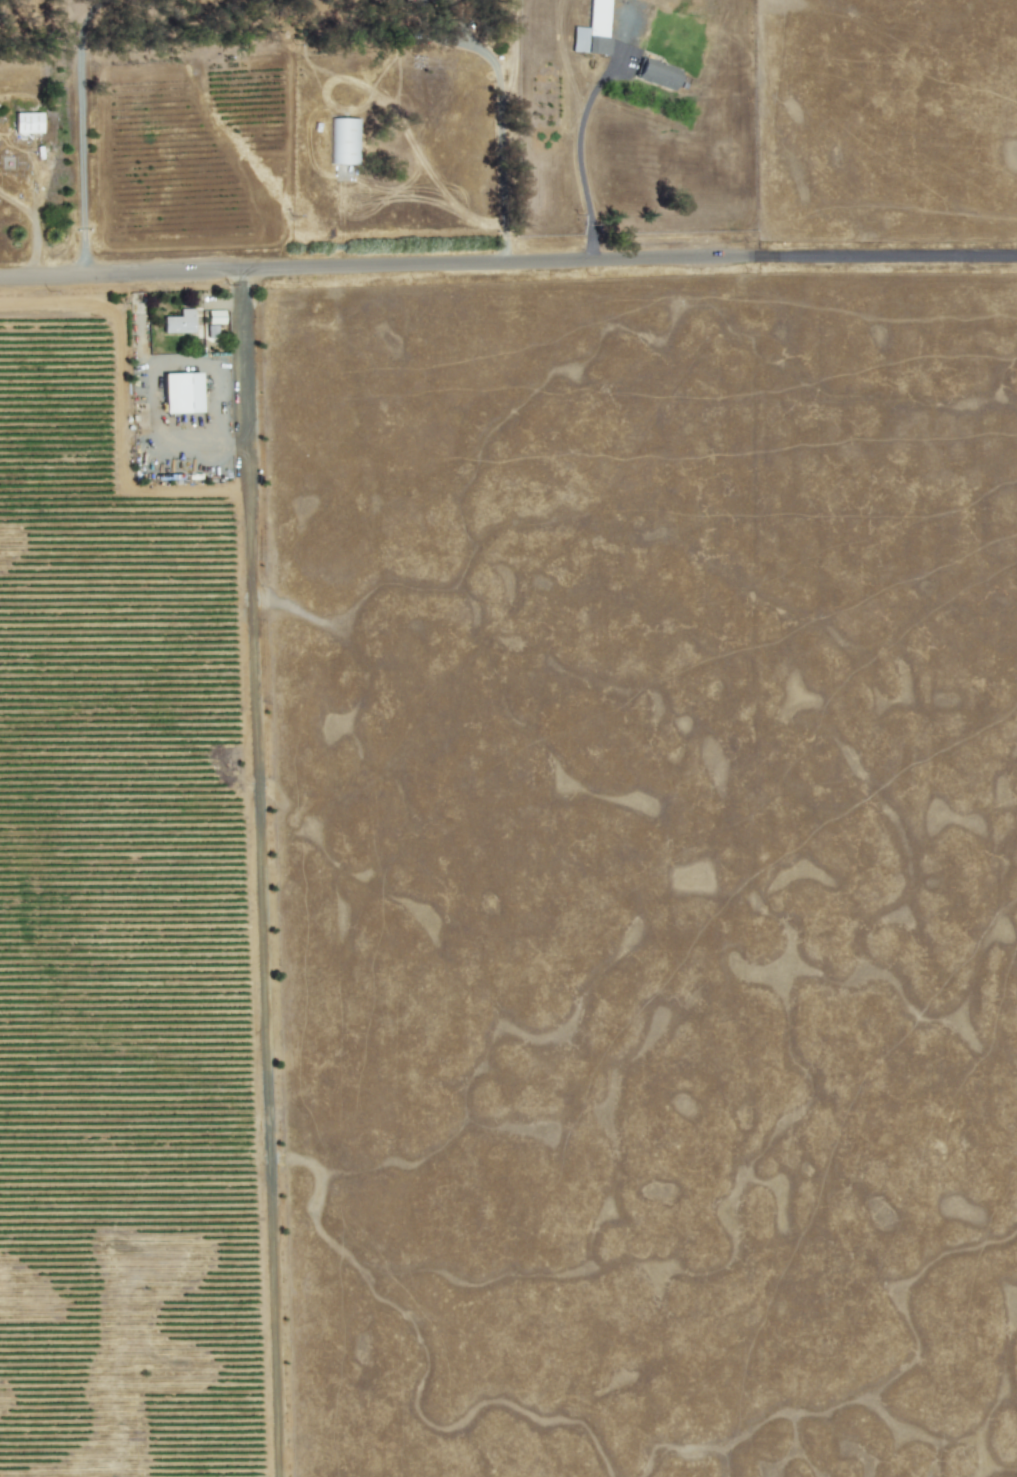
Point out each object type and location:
building: (593, 31)
building: (658, 73)
building: (27, 122)
road: (81, 134)
road: (501, 134)
road: (579, 155)
road: (508, 262)
building: (216, 316)
building: (179, 322)
building: (181, 392)

